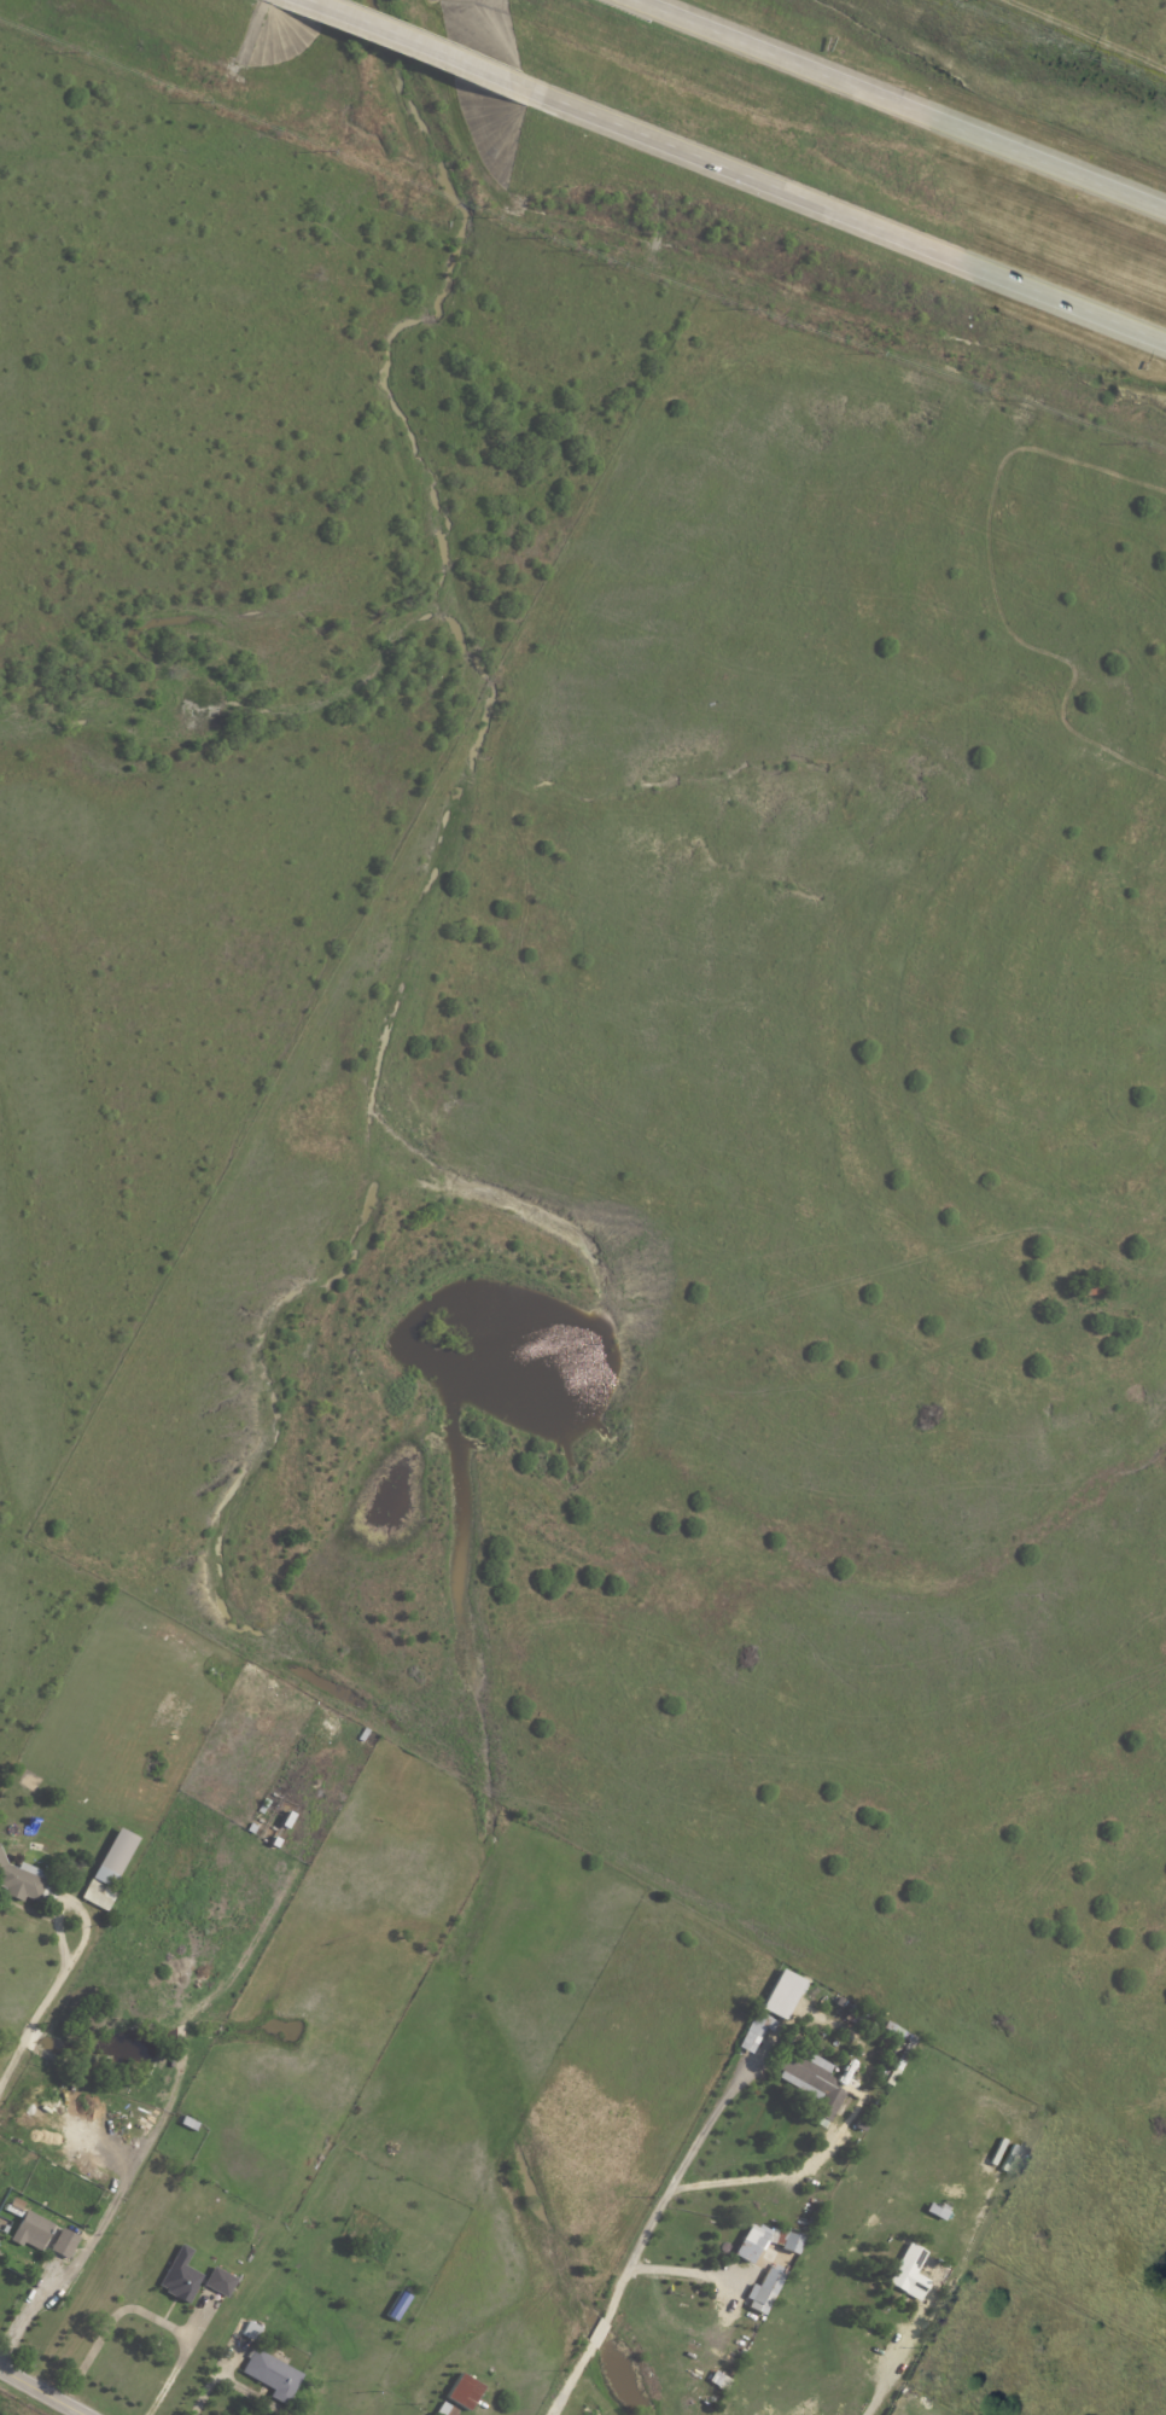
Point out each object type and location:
road: (424, 43)
road: (903, 104)
road: (849, 215)
building: (1091, 1287)
building: (365, 1734)
building: (264, 1806)
building: (132, 1828)
building: (68, 1861)
building: (110, 1869)
building: (27, 1881)
building: (781, 1992)
building: (817, 1996)
building: (856, 2017)
road: (35, 2019)
building: (875, 2027)
building: (758, 2030)
building: (902, 2062)
building: (812, 2078)
building: (1009, 2094)
building: (111, 2099)
building: (190, 2123)
building: (996, 2125)
road: (758, 2180)
building: (939, 2211)
building: (30, 2224)
building: (788, 2237)
road: (640, 2244)
building: (64, 2246)
building: (756, 2246)
building: (367, 2248)
building: (909, 2271)
road: (678, 2273)
building: (181, 2277)
building: (220, 2281)
building: (768, 2288)
road: (28, 2311)
building: (268, 2320)
building: (252, 2330)
road: (183, 2352)
building: (273, 2374)
building: (717, 2378)
road: (884, 2380)
road: (233, 2384)
building: (464, 2391)
road: (39, 2393)
building: (447, 2409)

